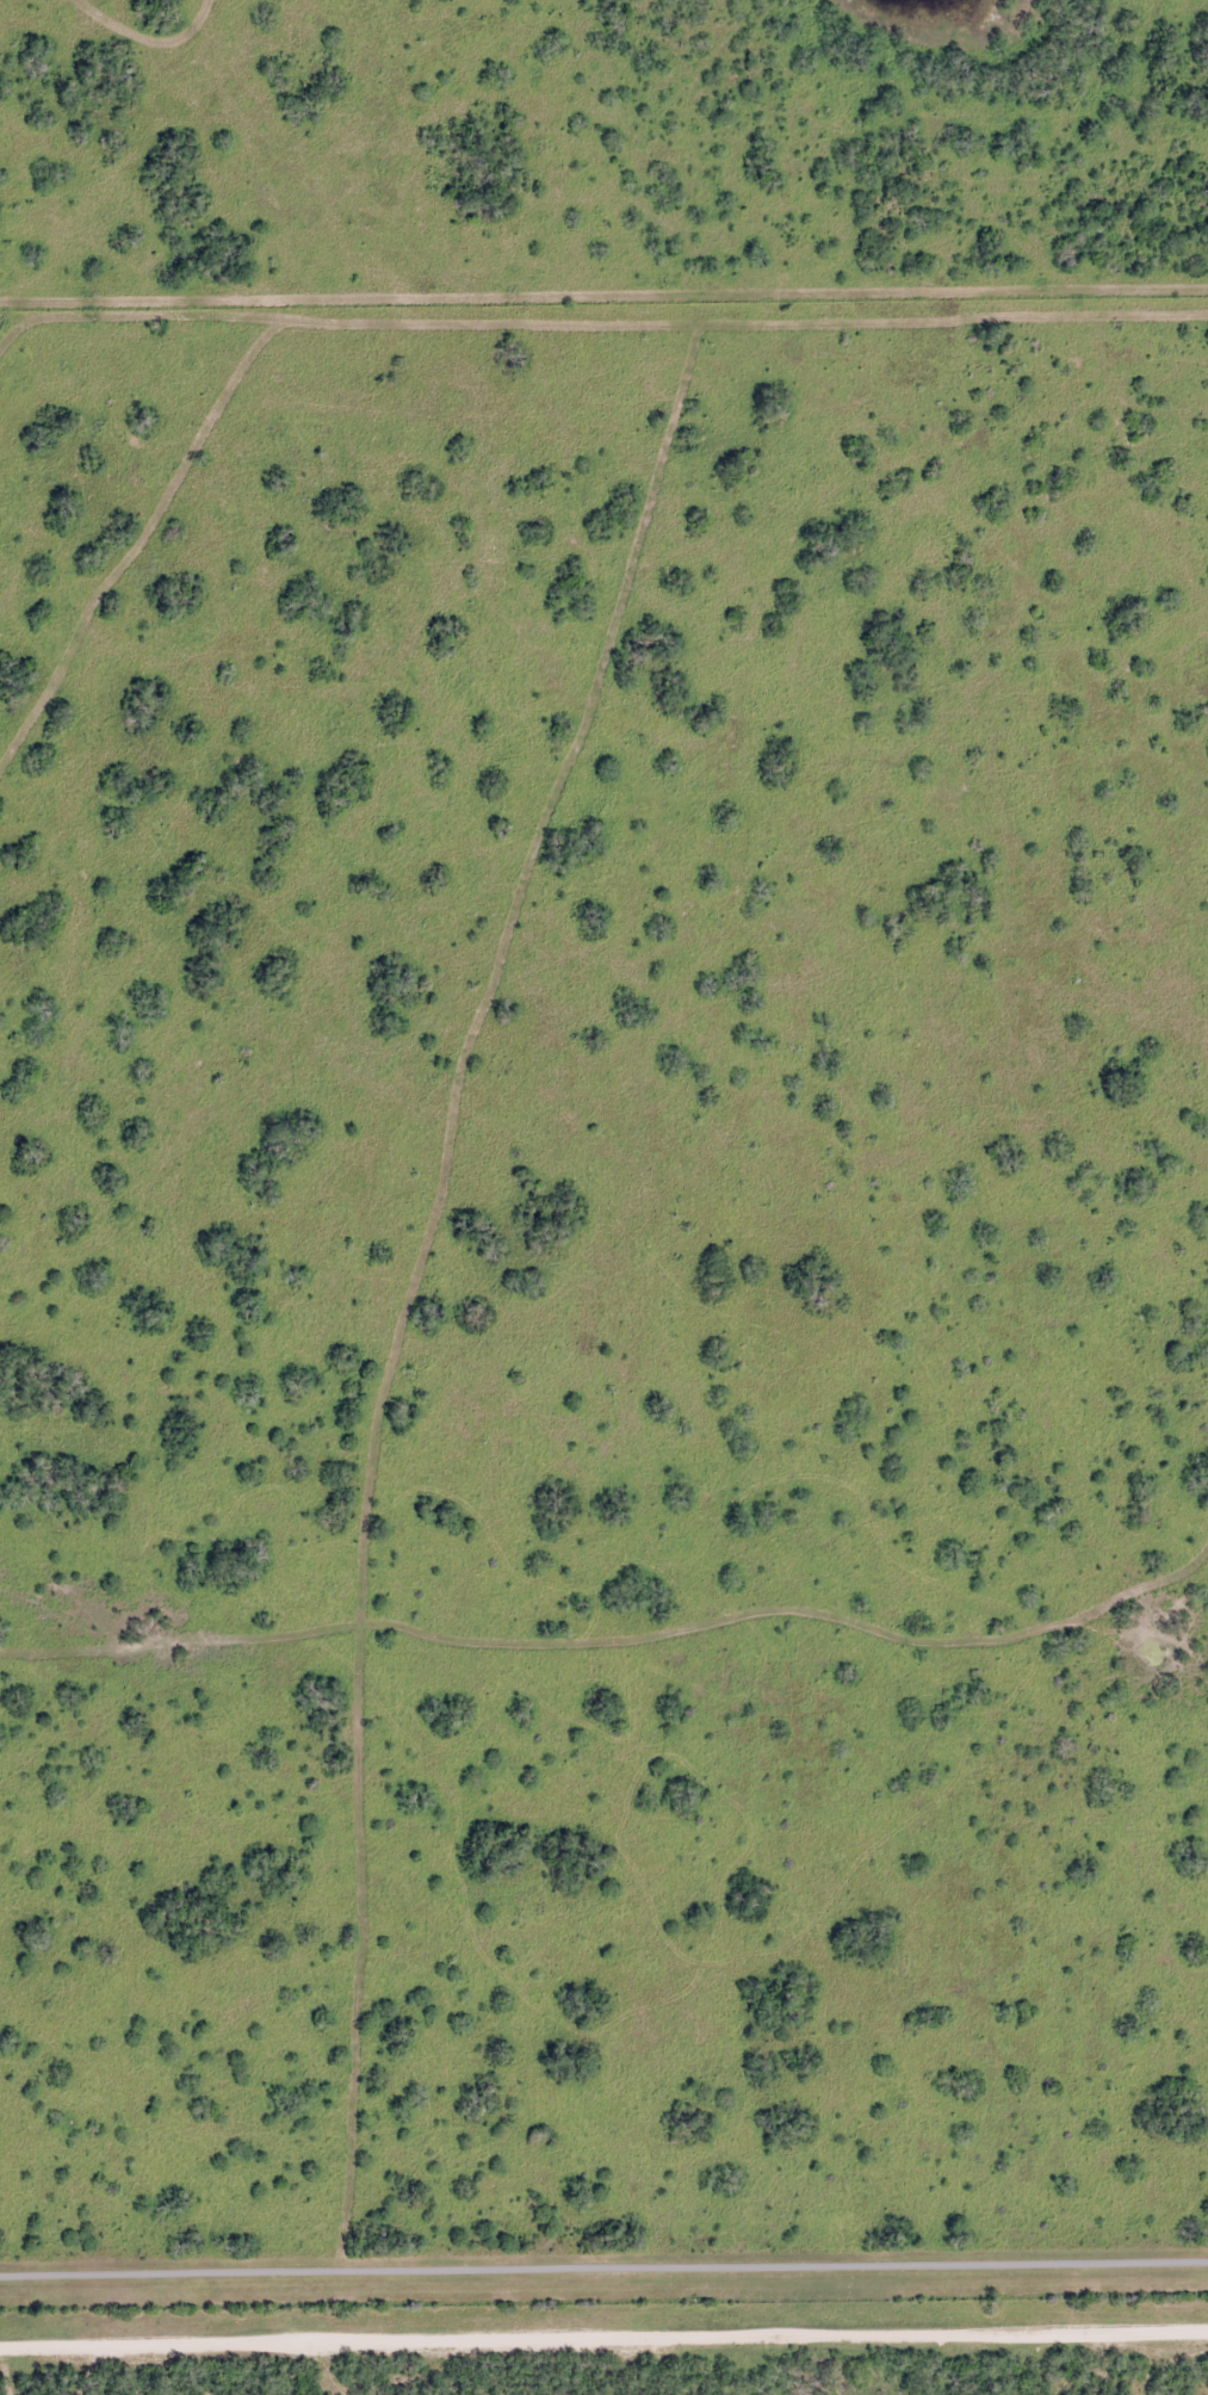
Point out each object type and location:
road: (603, 2276)
road: (603, 2339)

